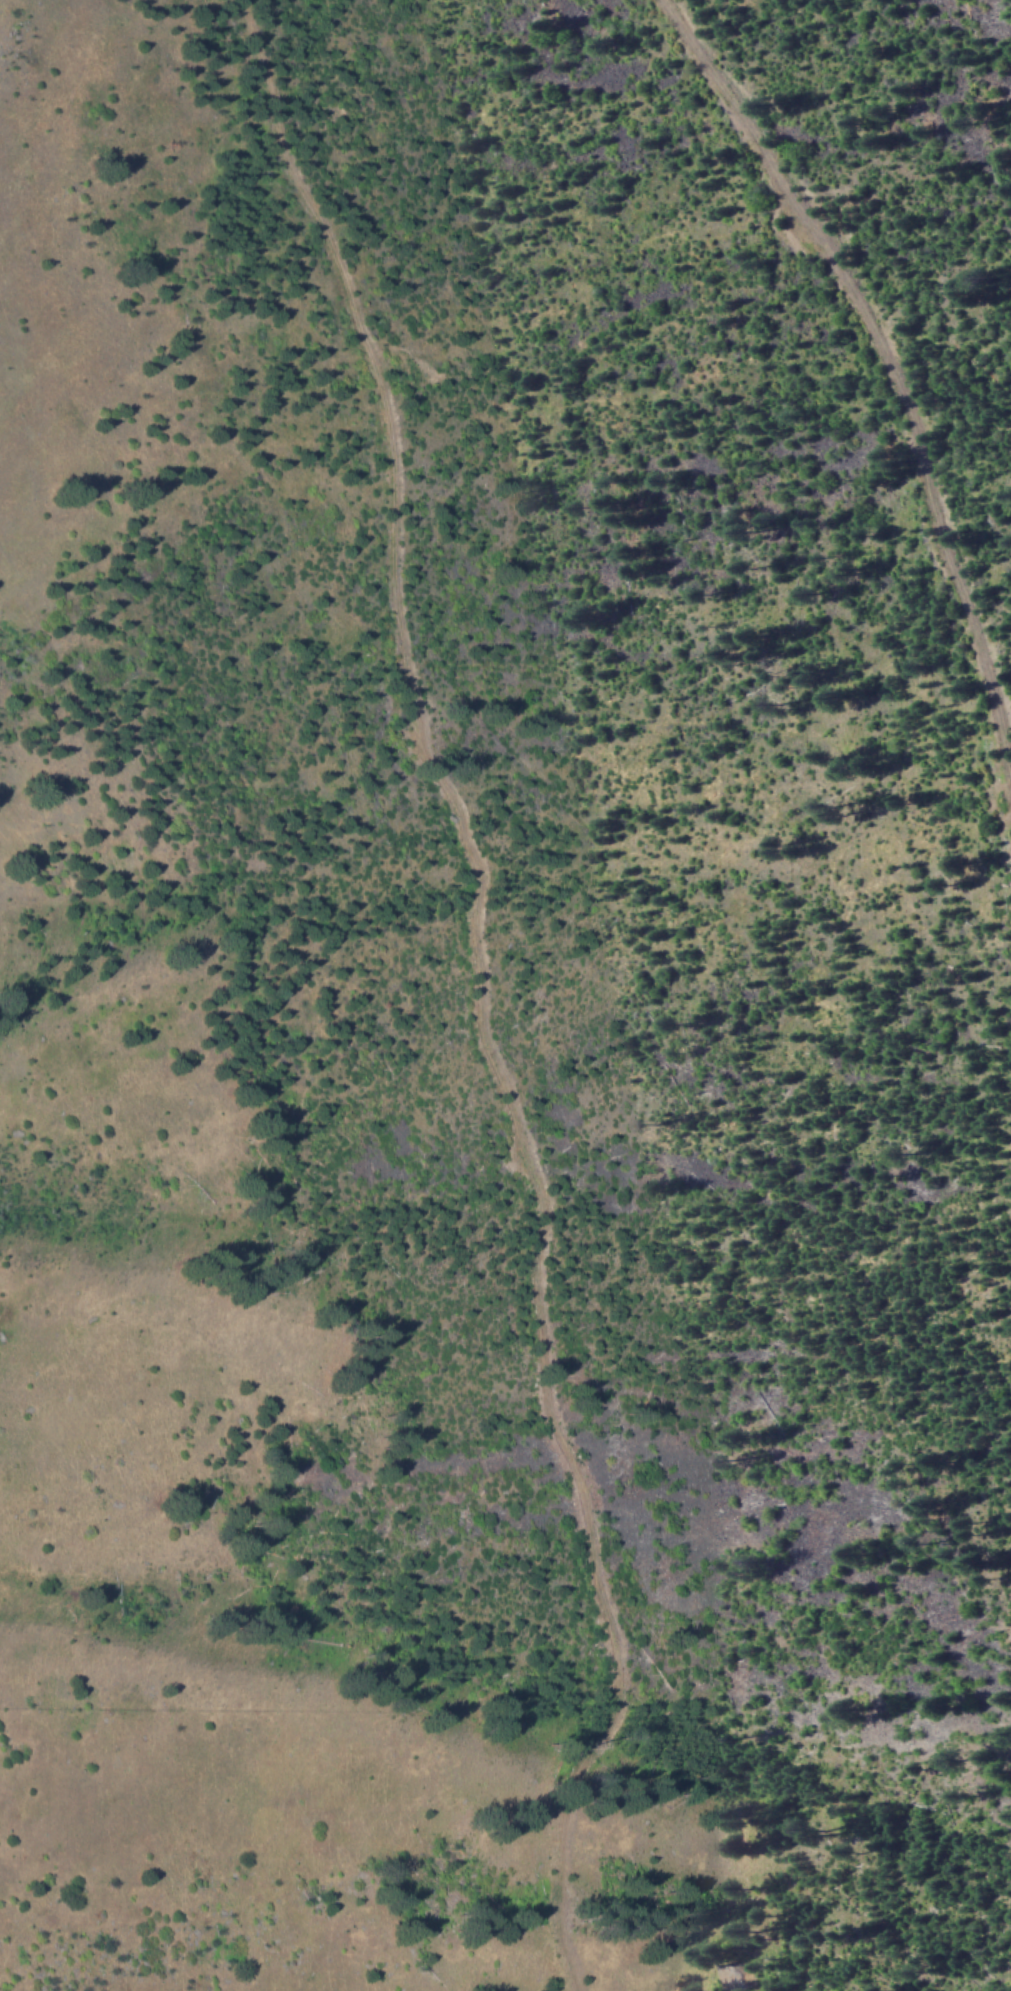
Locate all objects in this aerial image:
road: (875, 384)
building: (740, 1975)

